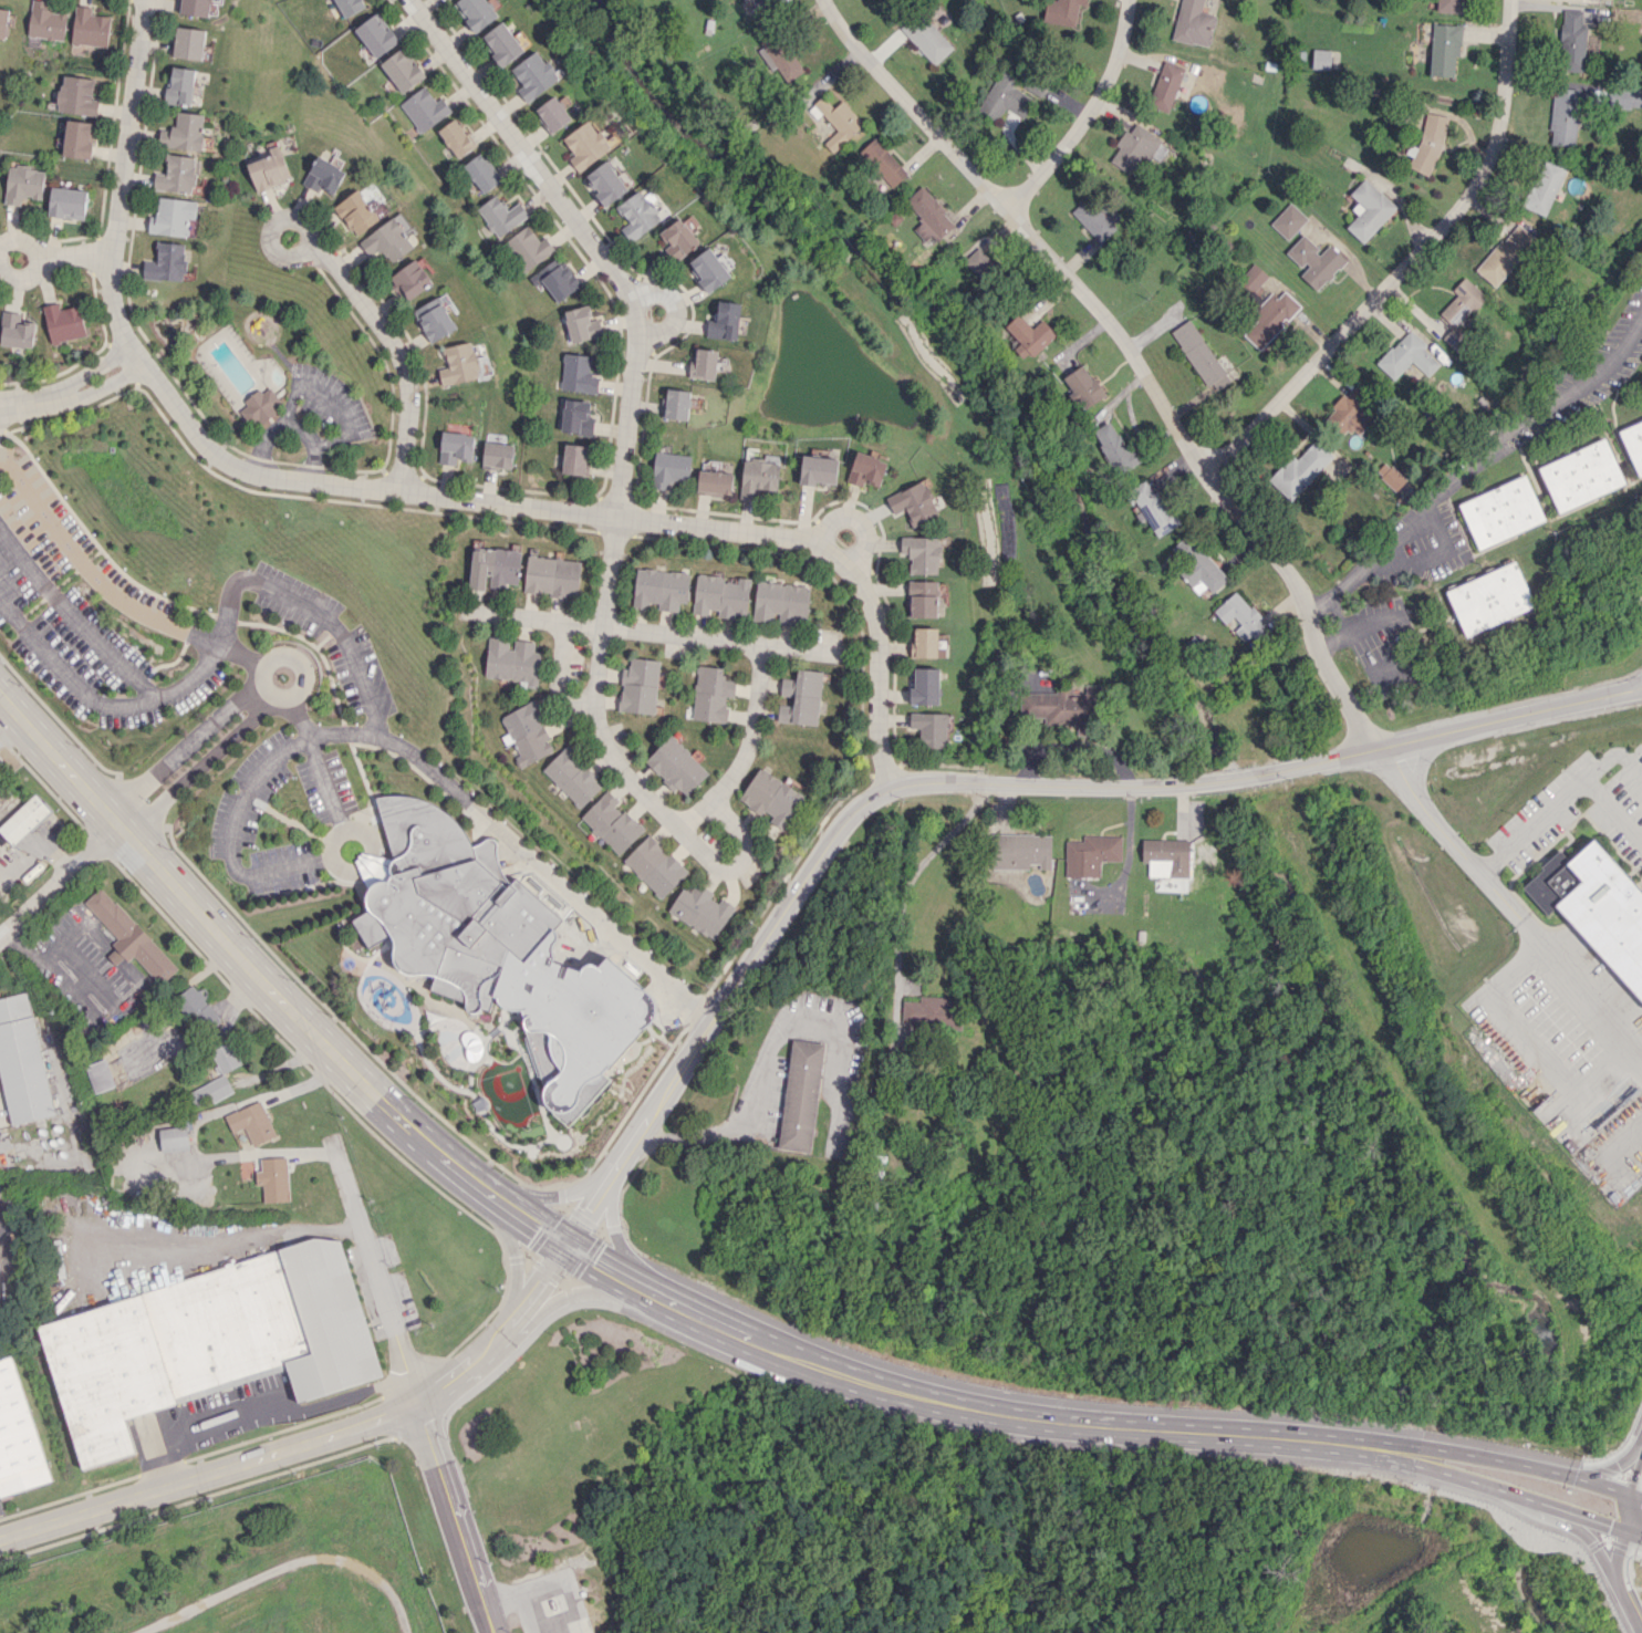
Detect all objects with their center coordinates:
building: (746, 0)
building: (760, 3)
building: (350, 6)
building: (1449, 6)
building: (196, 7)
building: (1062, 11)
building: (476, 12)
building: (46, 21)
building: (3, 23)
building: (1193, 23)
building: (91, 28)
building: (376, 35)
building: (926, 38)
building: (1571, 41)
building: (190, 43)
building: (501, 43)
building: (1444, 50)
building: (1320, 59)
building: (402, 71)
building: (534, 74)
building: (183, 85)
building: (1165, 85)
building: (79, 95)
building: (1624, 96)
building: (1004, 97)
building: (424, 108)
building: (553, 113)
road: (1088, 114)
building: (1563, 116)
building: (836, 121)
building: (186, 132)
building: (80, 138)
building: (456, 138)
building: (585, 144)
building: (1427, 144)
building: (1136, 148)
building: (883, 162)
building: (270, 169)
building: (481, 173)
building: (178, 174)
building: (324, 176)
building: (606, 183)
building: (25, 184)
building: (1544, 186)
building: (70, 202)
building: (1368, 209)
building: (357, 212)
building: (638, 214)
building: (501, 215)
building: (928, 215)
building: (174, 216)
building: (1095, 217)
building: (1288, 220)
road: (1023, 225)
building: (678, 239)
road: (22, 240)
building: (387, 240)
building: (528, 248)
building: (1506, 254)
road: (77, 259)
building: (1314, 261)
building: (168, 262)
road: (1410, 262)
building: (980, 264)
building: (709, 269)
road: (23, 278)
building: (1251, 278)
building: (558, 279)
building: (412, 280)
road: (361, 297)
road: (674, 306)
building: (1462, 312)
building: (1270, 318)
building: (435, 319)
building: (725, 321)
building: (65, 322)
building: (17, 330)
building: (1029, 335)
building: (1199, 355)
building: (1407, 356)
building: (705, 362)
building: (460, 364)
road: (95, 370)
building: (578, 373)
road: (104, 385)
building: (1082, 386)
road: (58, 396)
road: (31, 399)
road: (331, 404)
building: (675, 404)
building: (262, 405)
building: (1352, 412)
building: (576, 417)
road: (291, 425)
building: (1633, 444)
building: (456, 447)
building: (1114, 447)
building: (497, 455)
building: (573, 458)
road: (1477, 464)
building: (669, 468)
road: (621, 469)
building: (866, 469)
building: (1300, 469)
building: (818, 470)
road: (270, 475)
building: (1581, 475)
building: (1390, 476)
building: (758, 477)
building: (714, 482)
building: (914, 502)
building: (1152, 507)
building: (1501, 511)
road: (855, 518)
building: (922, 553)
road: (1424, 560)
building: (492, 568)
road: (96, 574)
building: (551, 576)
building: (659, 589)
building: (720, 595)
building: (923, 599)
building: (1489, 599)
road: (297, 600)
road: (1301, 601)
building: (780, 602)
parking lot: (90, 611)
road: (73, 613)
road: (1337, 614)
road: (1393, 615)
building: (1241, 617)
road: (648, 631)
parking lot: (330, 636)
building: (924, 642)
road: (877, 654)
building: (512, 661)
road: (259, 674)
road: (1634, 683)
building: (638, 686)
building: (925, 686)
road: (1634, 688)
building: (711, 694)
building: (801, 697)
road: (106, 700)
building: (1064, 705)
road: (299, 717)
building: (931, 728)
building: (526, 732)
road: (335, 735)
road: (183, 746)
road: (747, 747)
road: (1612, 755)
road: (205, 766)
building: (676, 766)
building: (571, 777)
road: (980, 784)
building: (772, 798)
road: (1613, 807)
parking lot: (279, 813)
building: (24, 819)
building: (612, 822)
road: (1531, 823)
road: (1448, 833)
road: (334, 841)
road: (1130, 849)
building: (1020, 851)
building: (1090, 854)
building: (1166, 857)
road: (918, 864)
building: (655, 866)
road: (60, 875)
building: (454, 904)
building: (1596, 906)
building: (702, 909)
building: (129, 937)
road: (66, 939)
road: (90, 977)
road: (1582, 989)
road: (74, 994)
building: (197, 1008)
building: (933, 1011)
road: (777, 1051)
building: (226, 1057)
building: (22, 1060)
building: (544, 1063)
building: (100, 1075)
building: (210, 1091)
building: (801, 1095)
road: (614, 1115)
building: (251, 1122)
building: (173, 1138)
building: (273, 1178)
road: (254, 1239)
traffic signals: (567, 1246)
road: (580, 1252)
building: (207, 1342)
road: (409, 1390)
road: (266, 1411)
building: (18, 1435)
road: (314, 1440)
road: (1497, 1458)
road: (1608, 1466)
traffic signals: (1633, 1479)
road: (1490, 1488)
road: (1630, 1491)
road: (1635, 1496)
road: (1636, 1512)
traffic signals: (1609, 1525)
road: (1632, 1532)
road: (1583, 1533)
road: (1618, 1544)
road: (284, 1564)
road: (549, 1583)
road: (1627, 1605)

